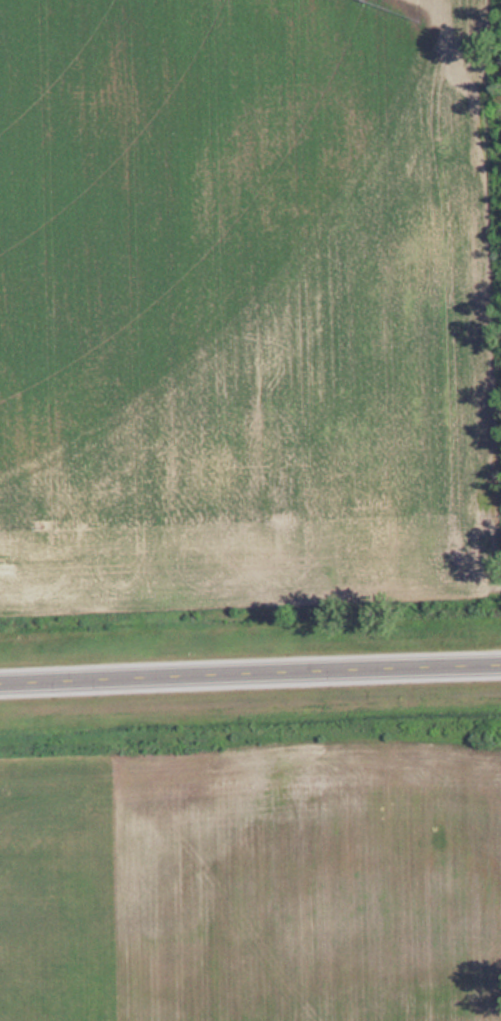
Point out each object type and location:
road: (250, 676)

